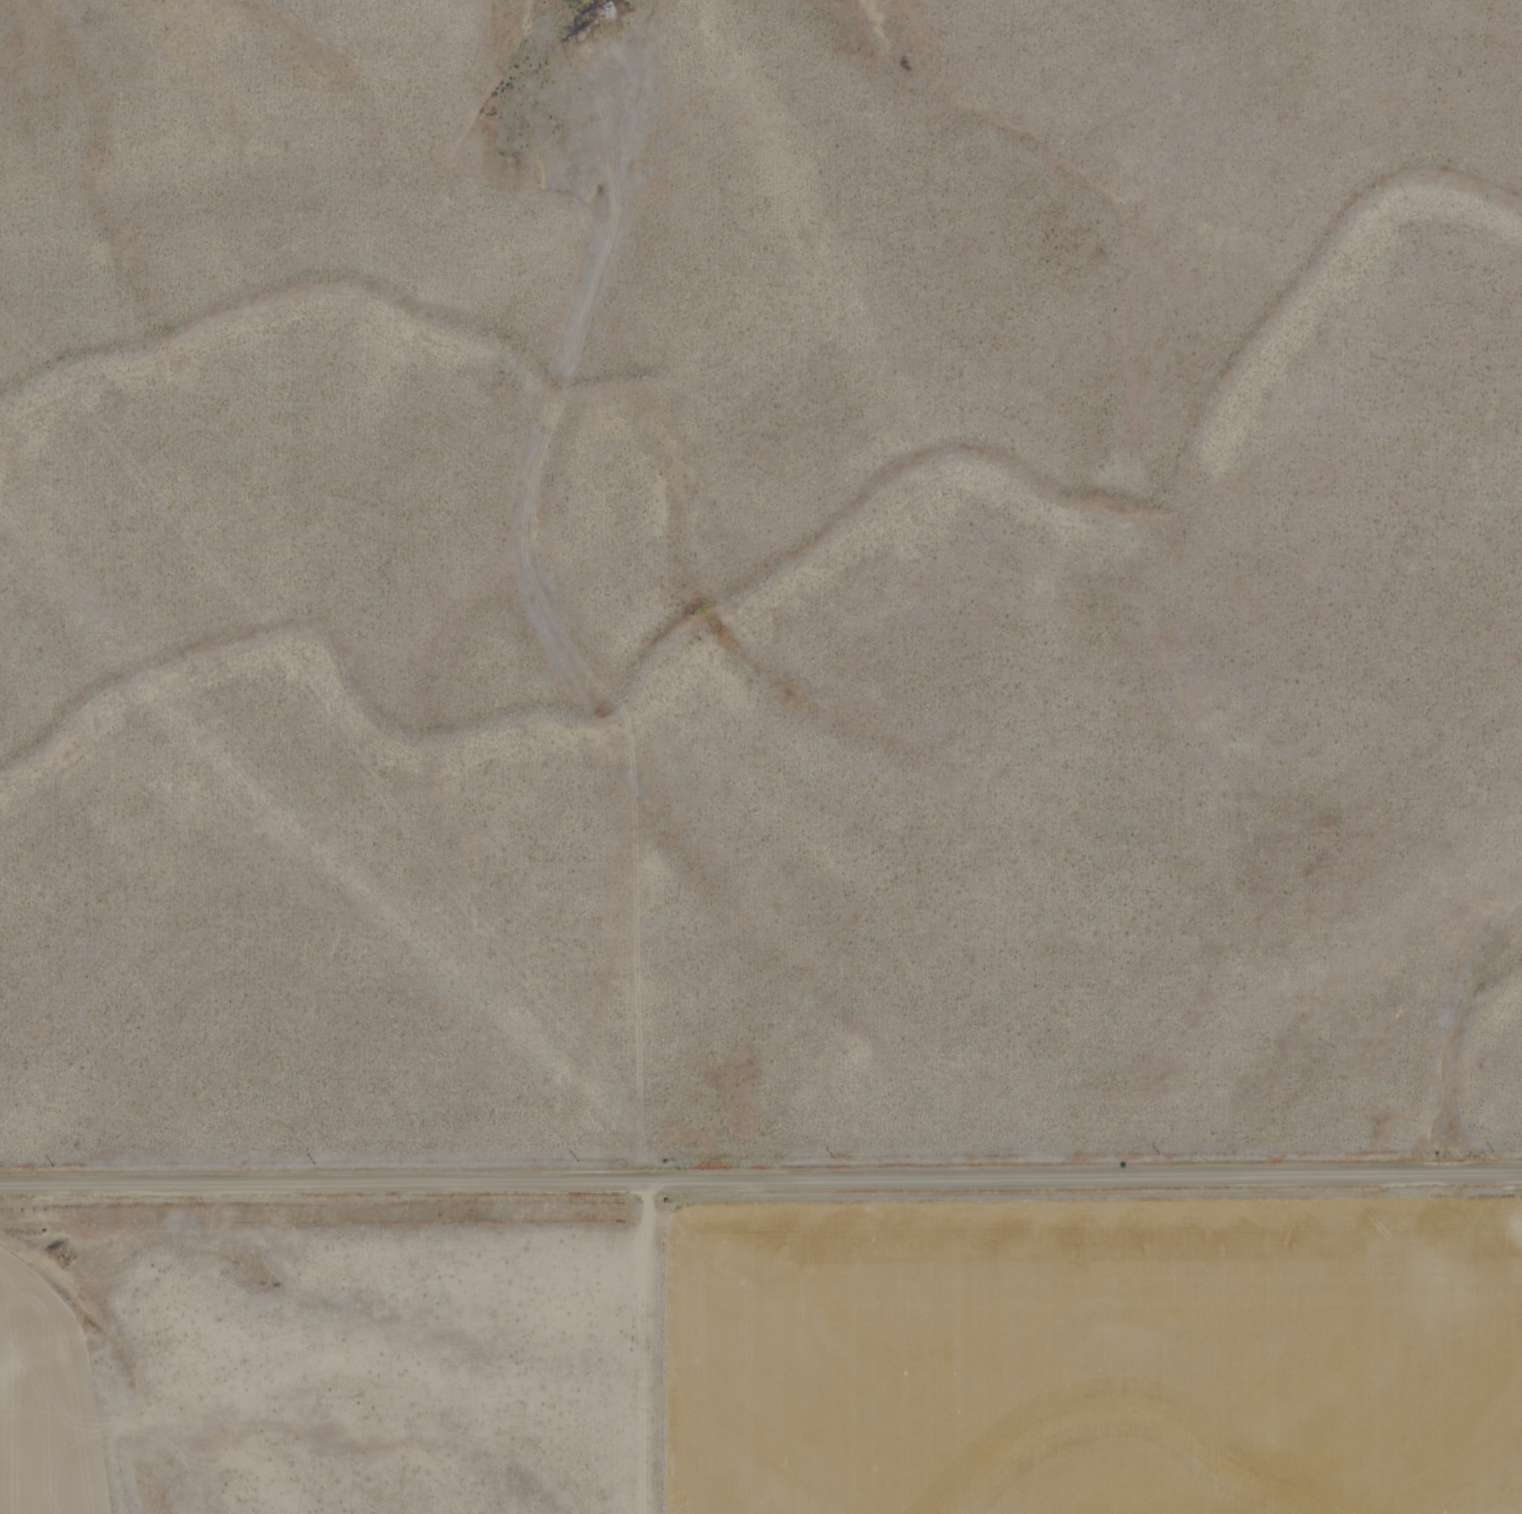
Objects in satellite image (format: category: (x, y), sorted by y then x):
road: (761, 1178)
crop: (765, 1366)

